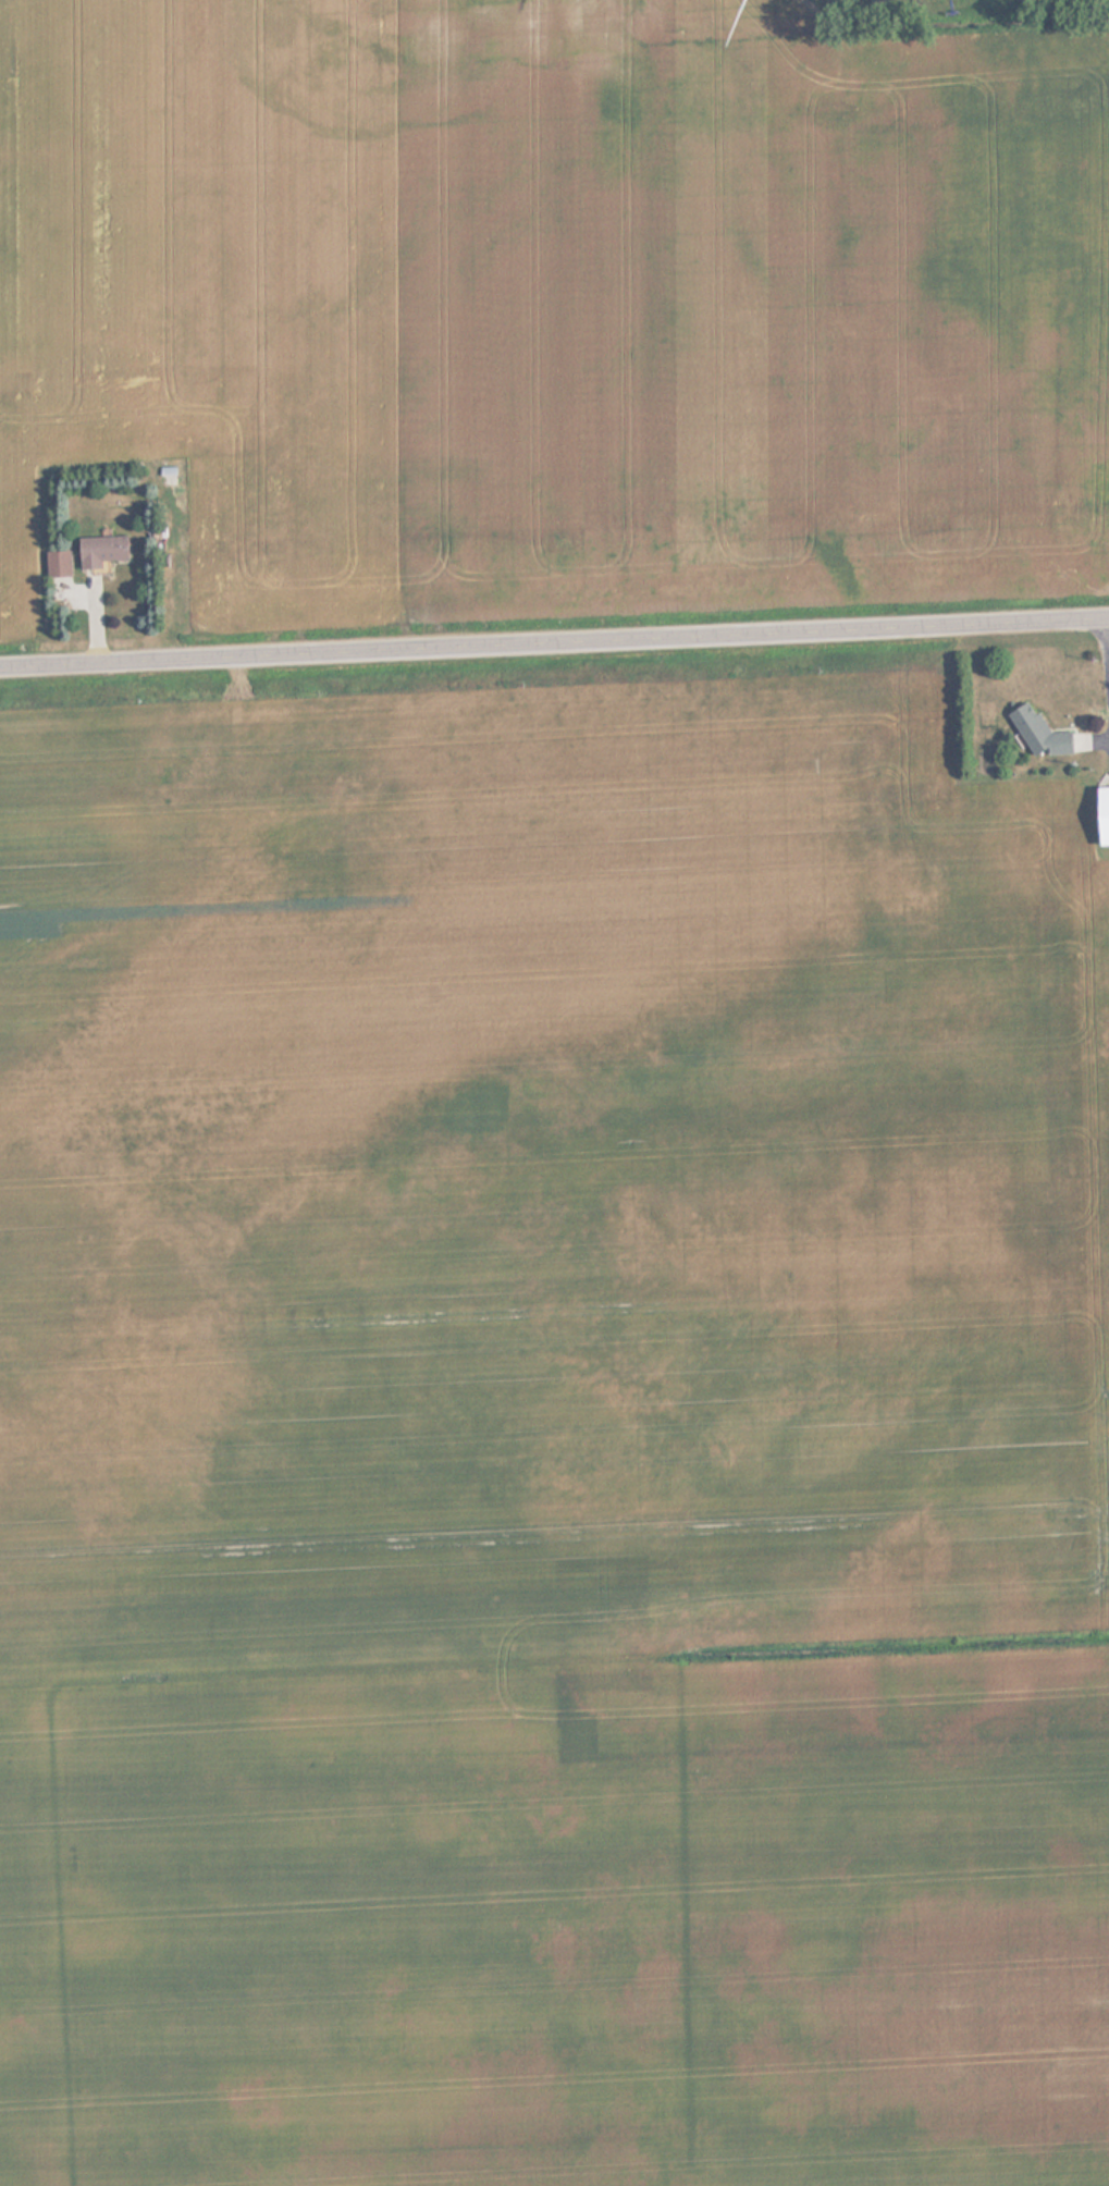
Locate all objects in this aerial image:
building: (99, 551)
building: (57, 564)
road: (554, 642)
building: (1037, 732)

